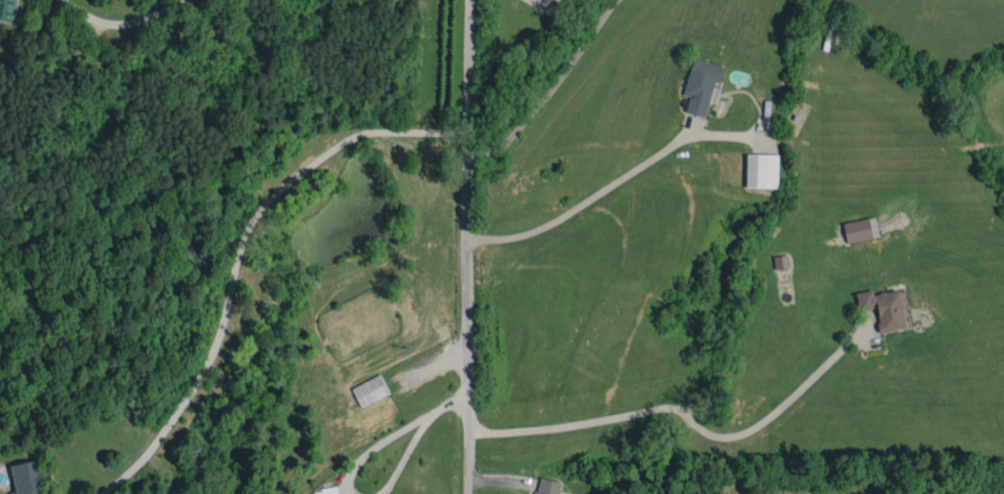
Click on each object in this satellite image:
building: (8, 10)
road: (119, 23)
building: (700, 85)
road: (553, 89)
building: (761, 170)
road: (587, 200)
building: (860, 229)
road: (473, 246)
road: (238, 250)
building: (781, 261)
building: (884, 308)
building: (370, 390)
road: (447, 403)
road: (672, 418)
road: (375, 449)
road: (403, 456)
building: (28, 477)
building: (547, 486)

